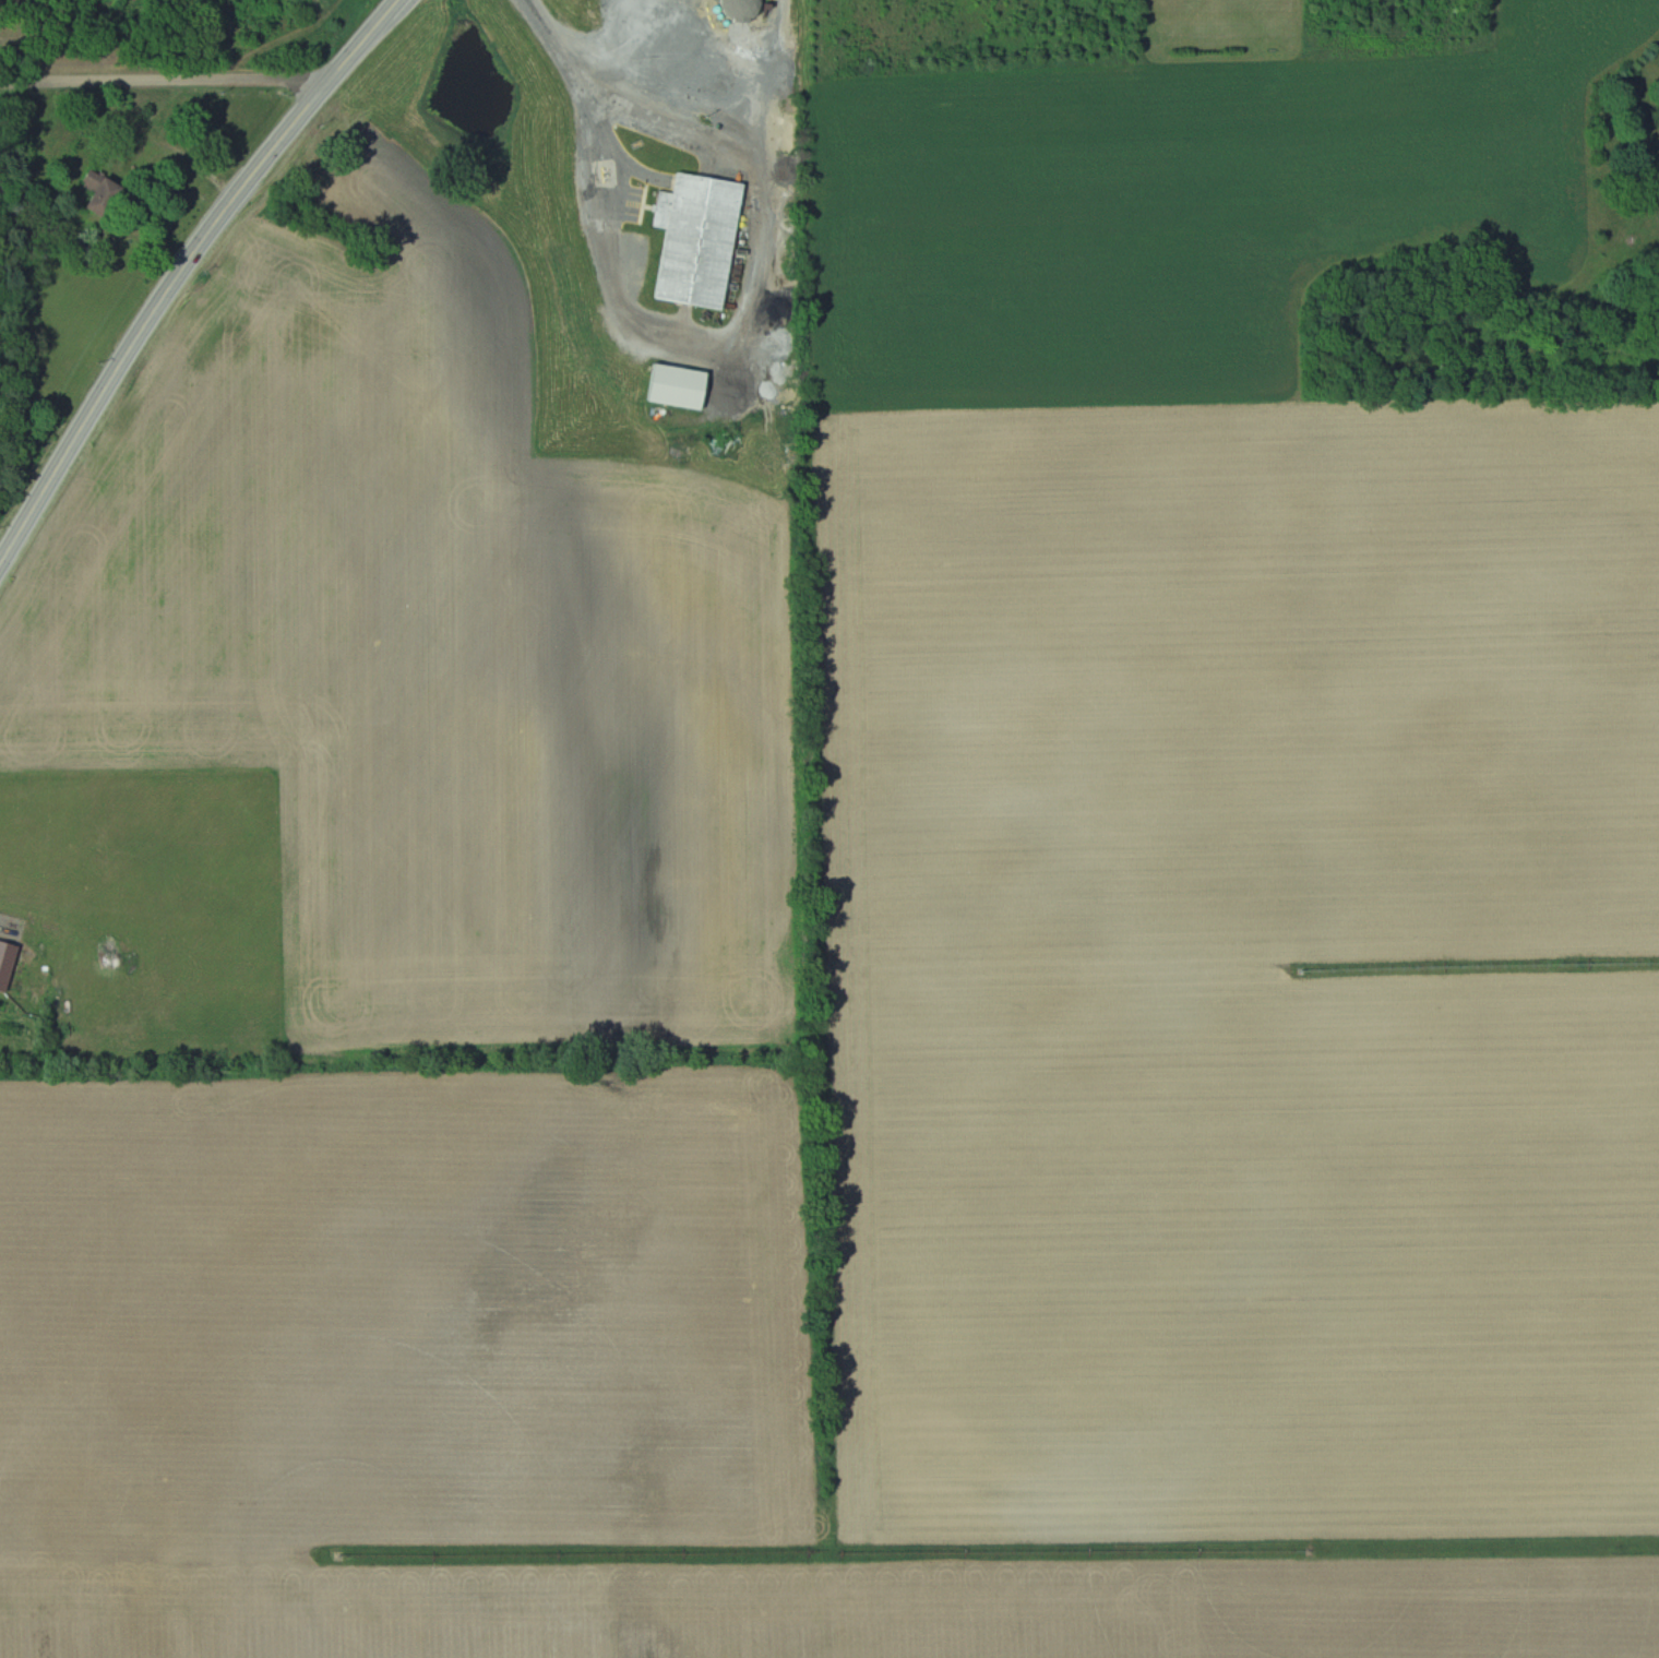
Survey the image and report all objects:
road: (166, 80)
road: (607, 181)
building: (108, 194)
building: (701, 240)
road: (182, 271)
building: (682, 386)

